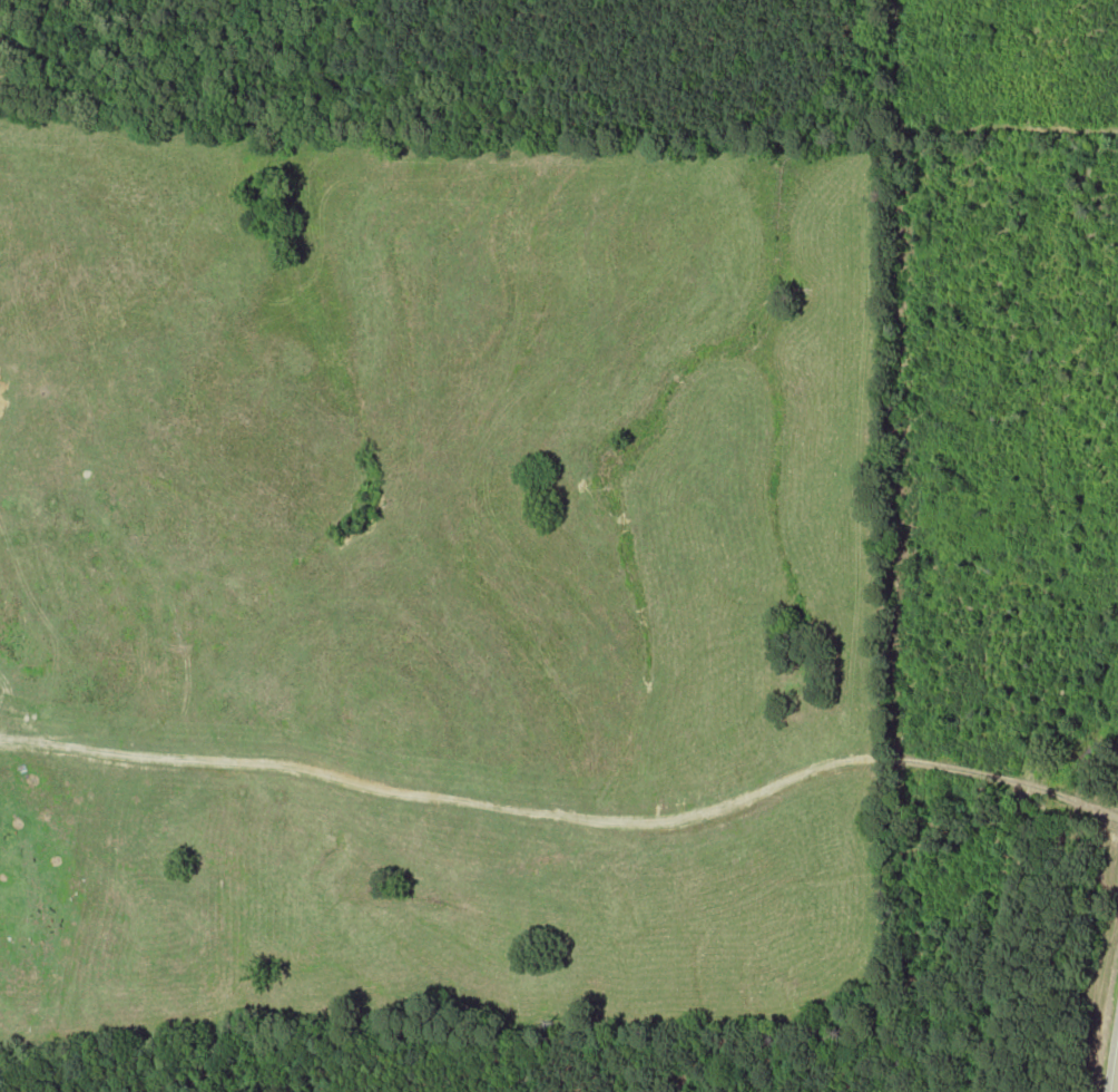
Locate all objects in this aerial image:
road: (571, 832)
road: (1117, 1088)

